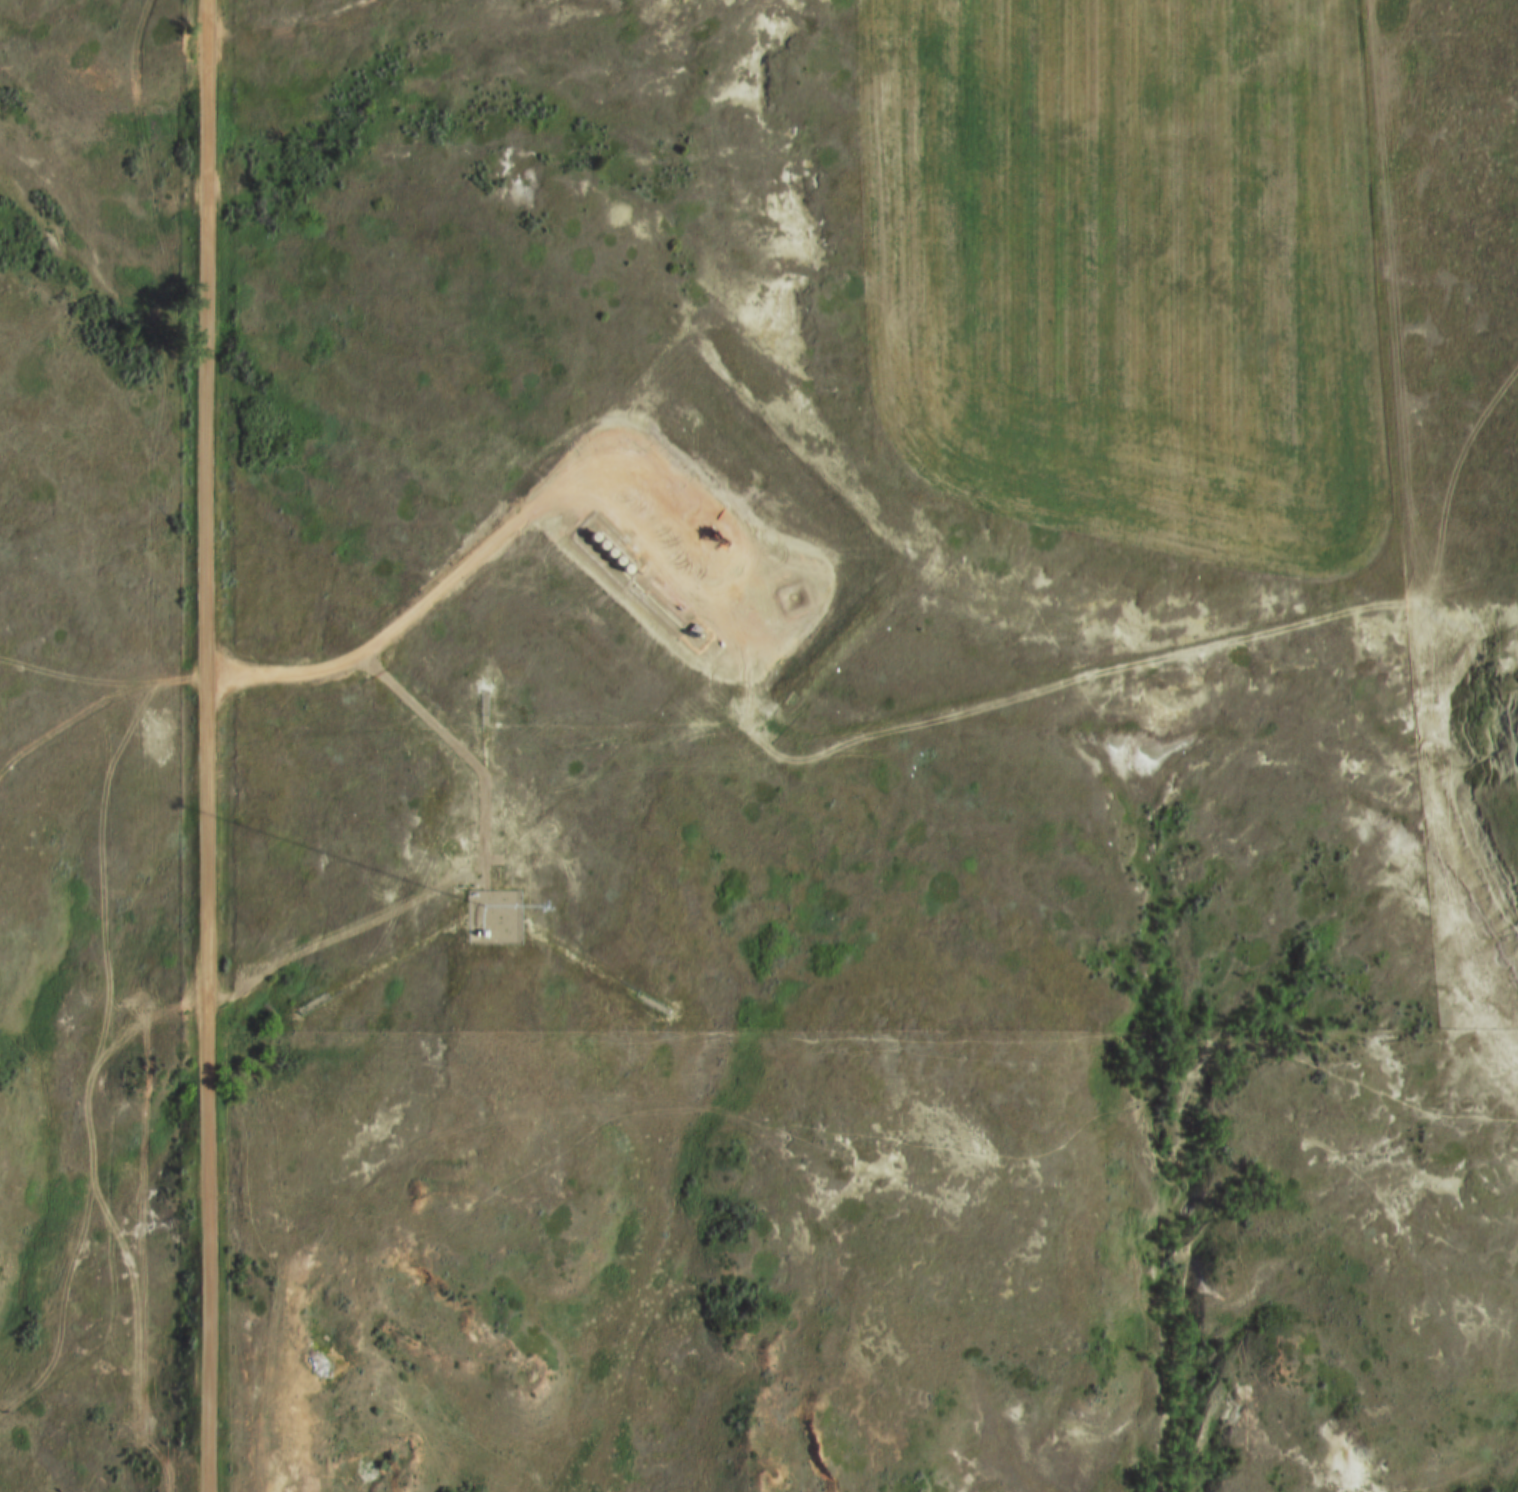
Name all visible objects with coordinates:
road: (204, 746)

